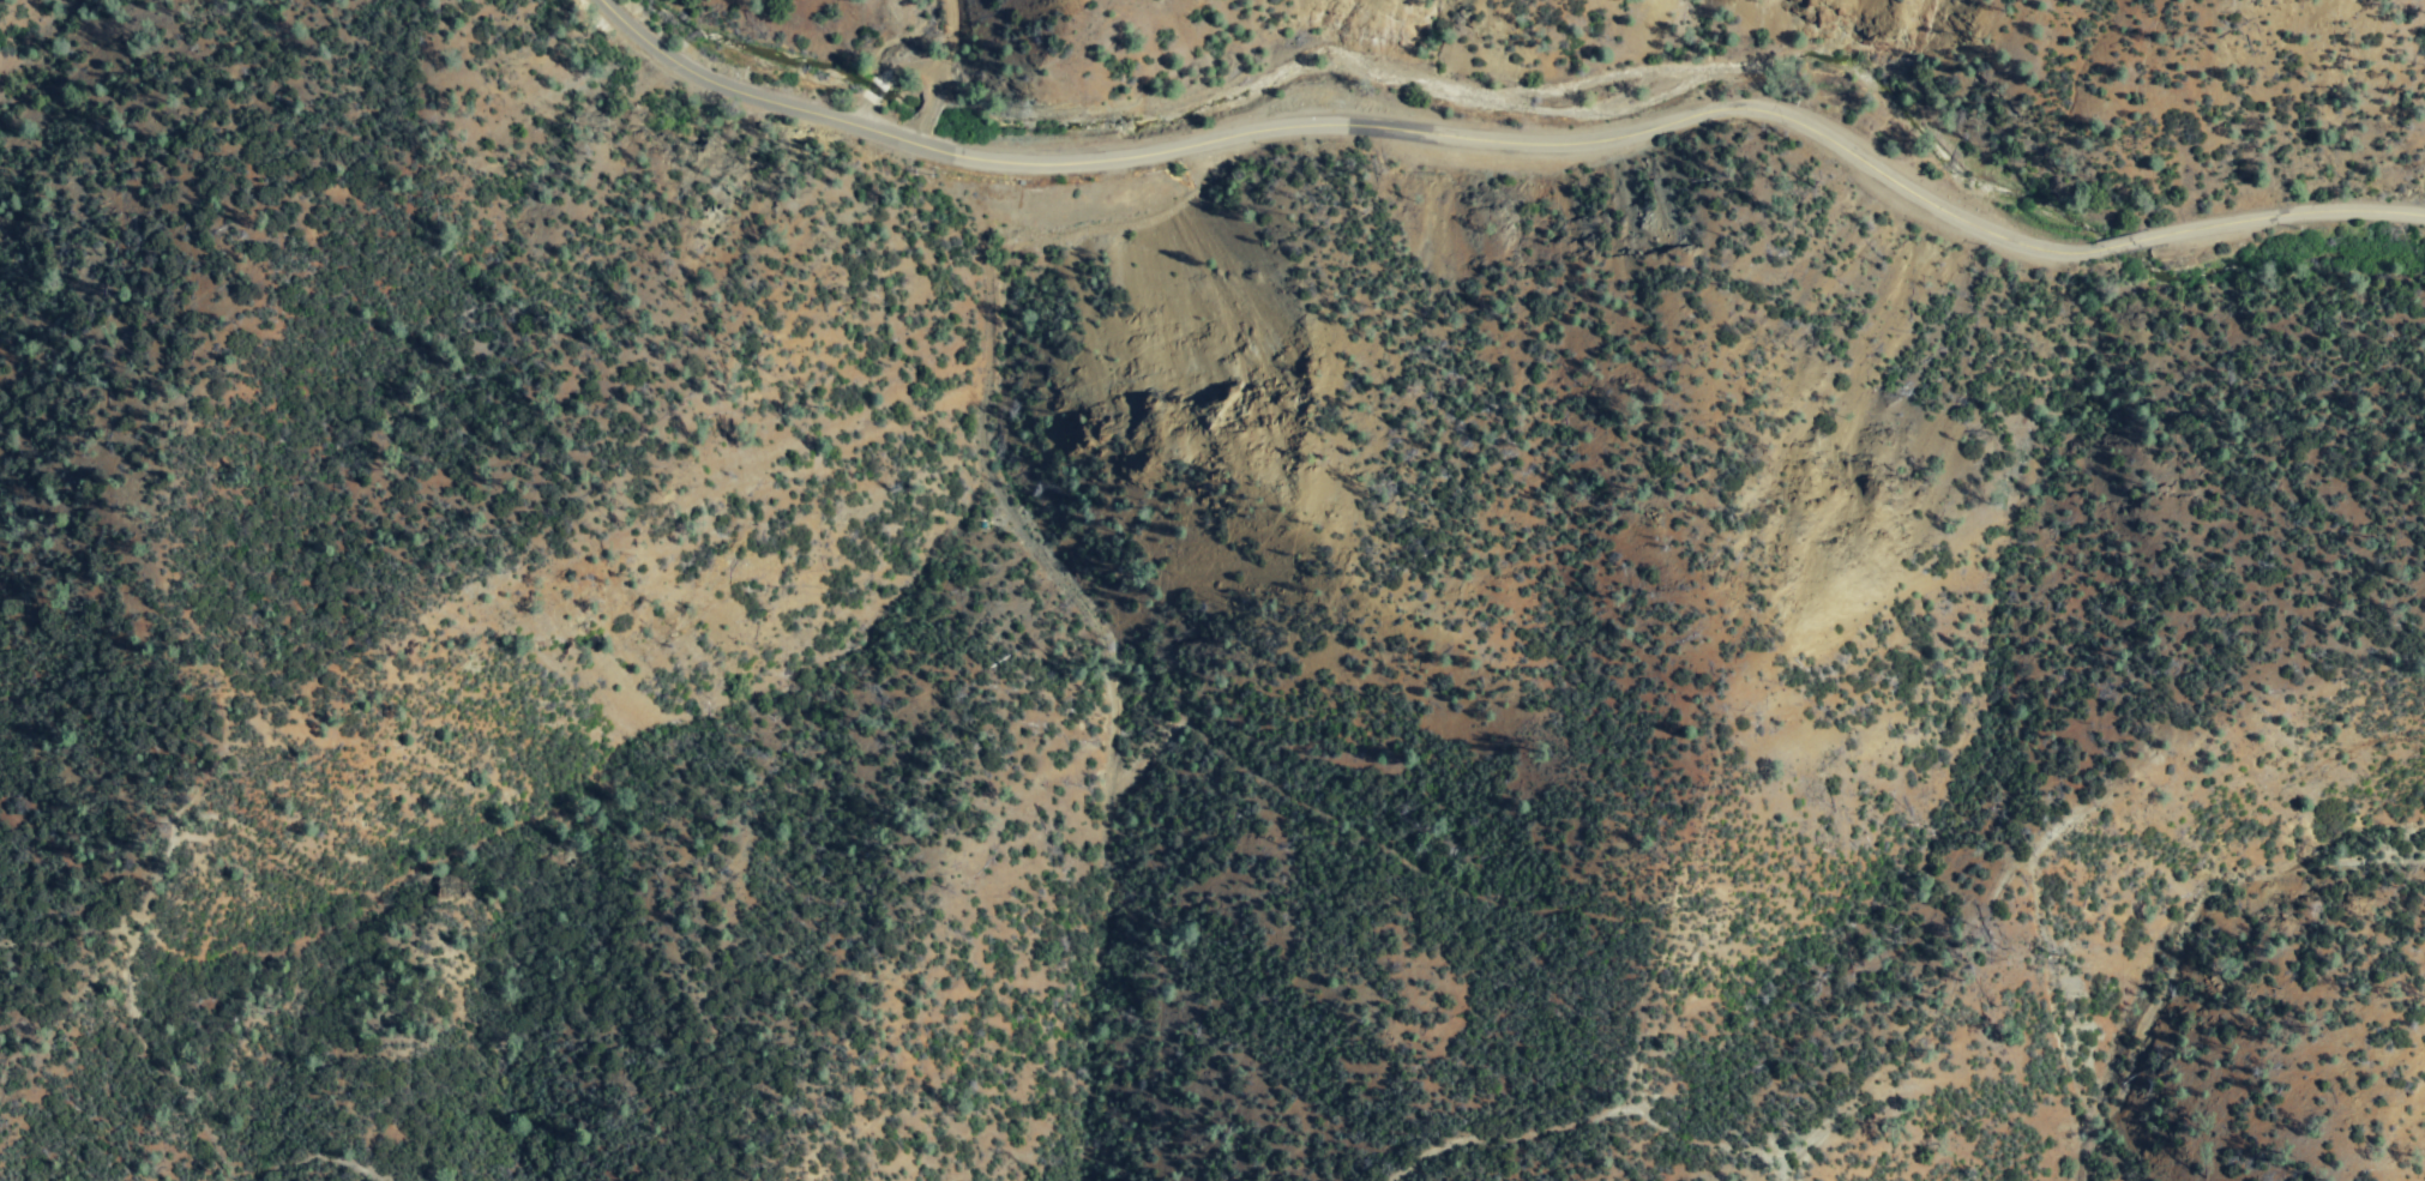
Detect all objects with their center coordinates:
road: (1342, 119)
road: (2283, 212)
road: (2117, 245)

